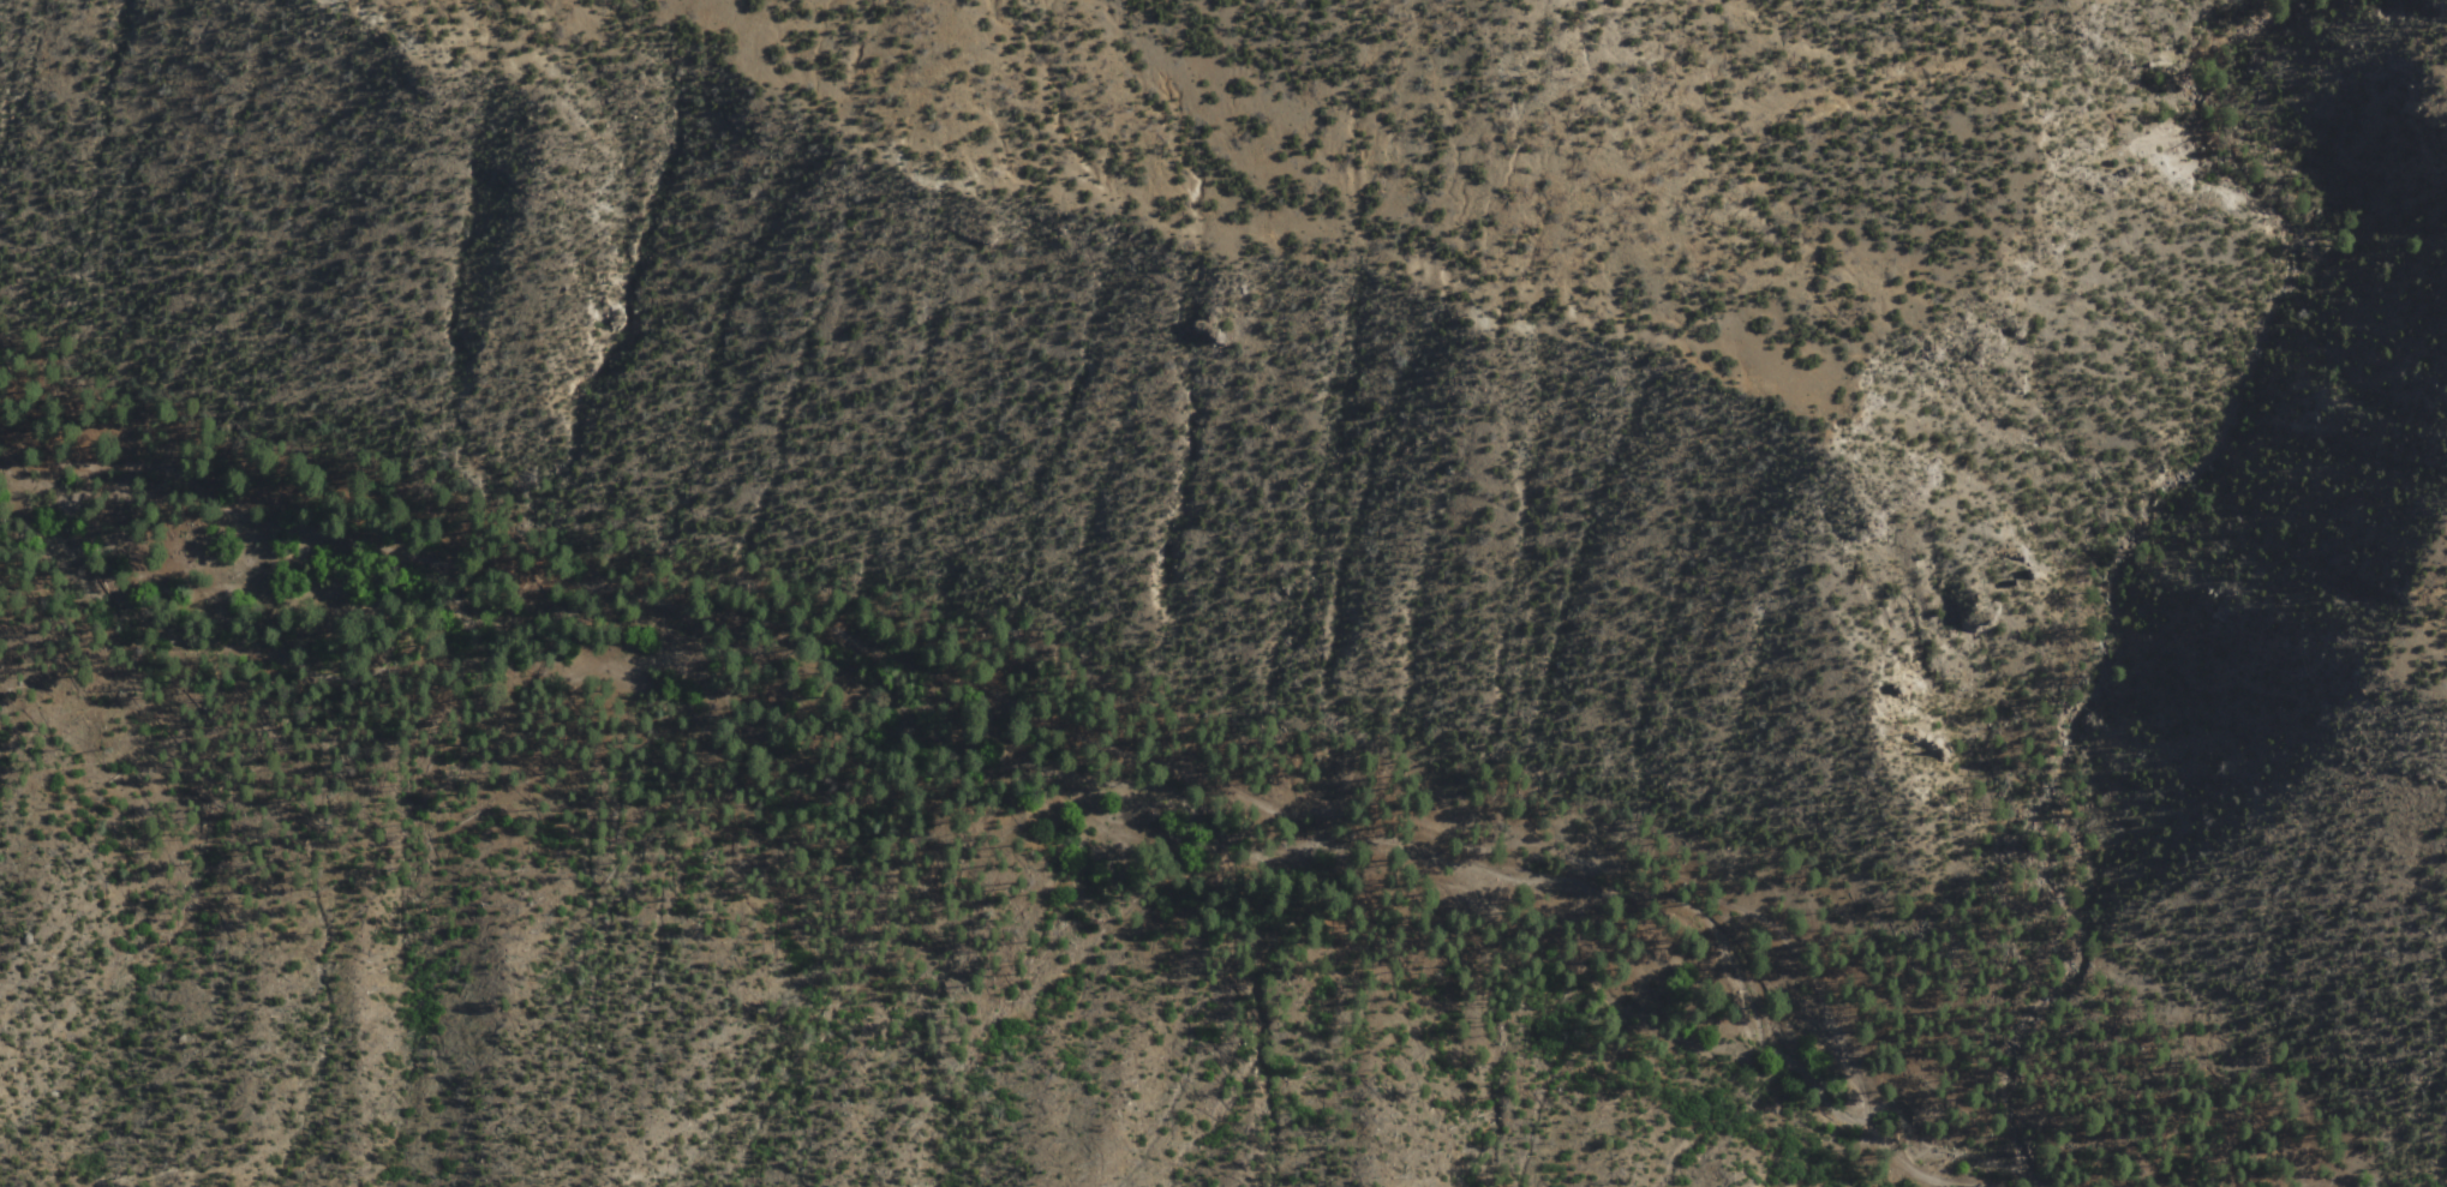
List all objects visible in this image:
road: (686, 601)
road: (1705, 935)

